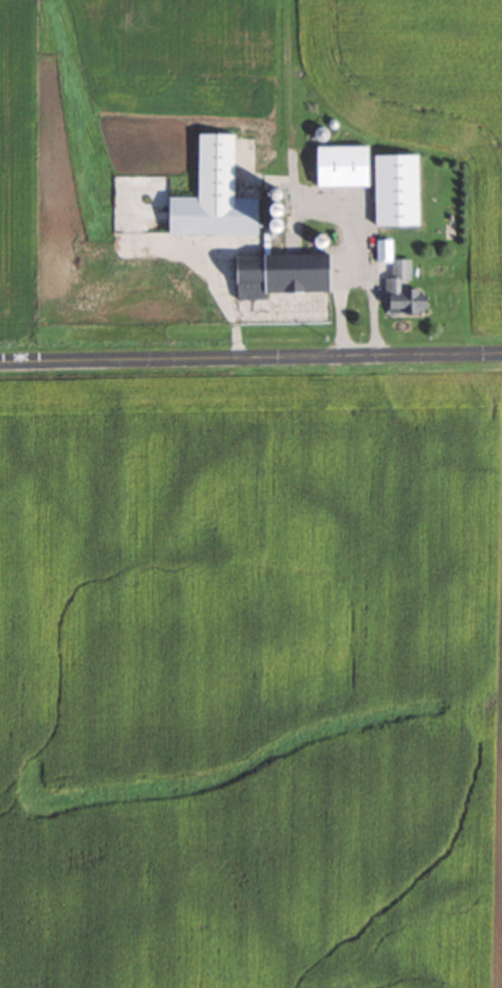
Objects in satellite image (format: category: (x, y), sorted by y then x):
building: (338, 167)
building: (393, 191)
building: (210, 196)
building: (396, 284)
building: (278, 289)
road: (251, 360)

